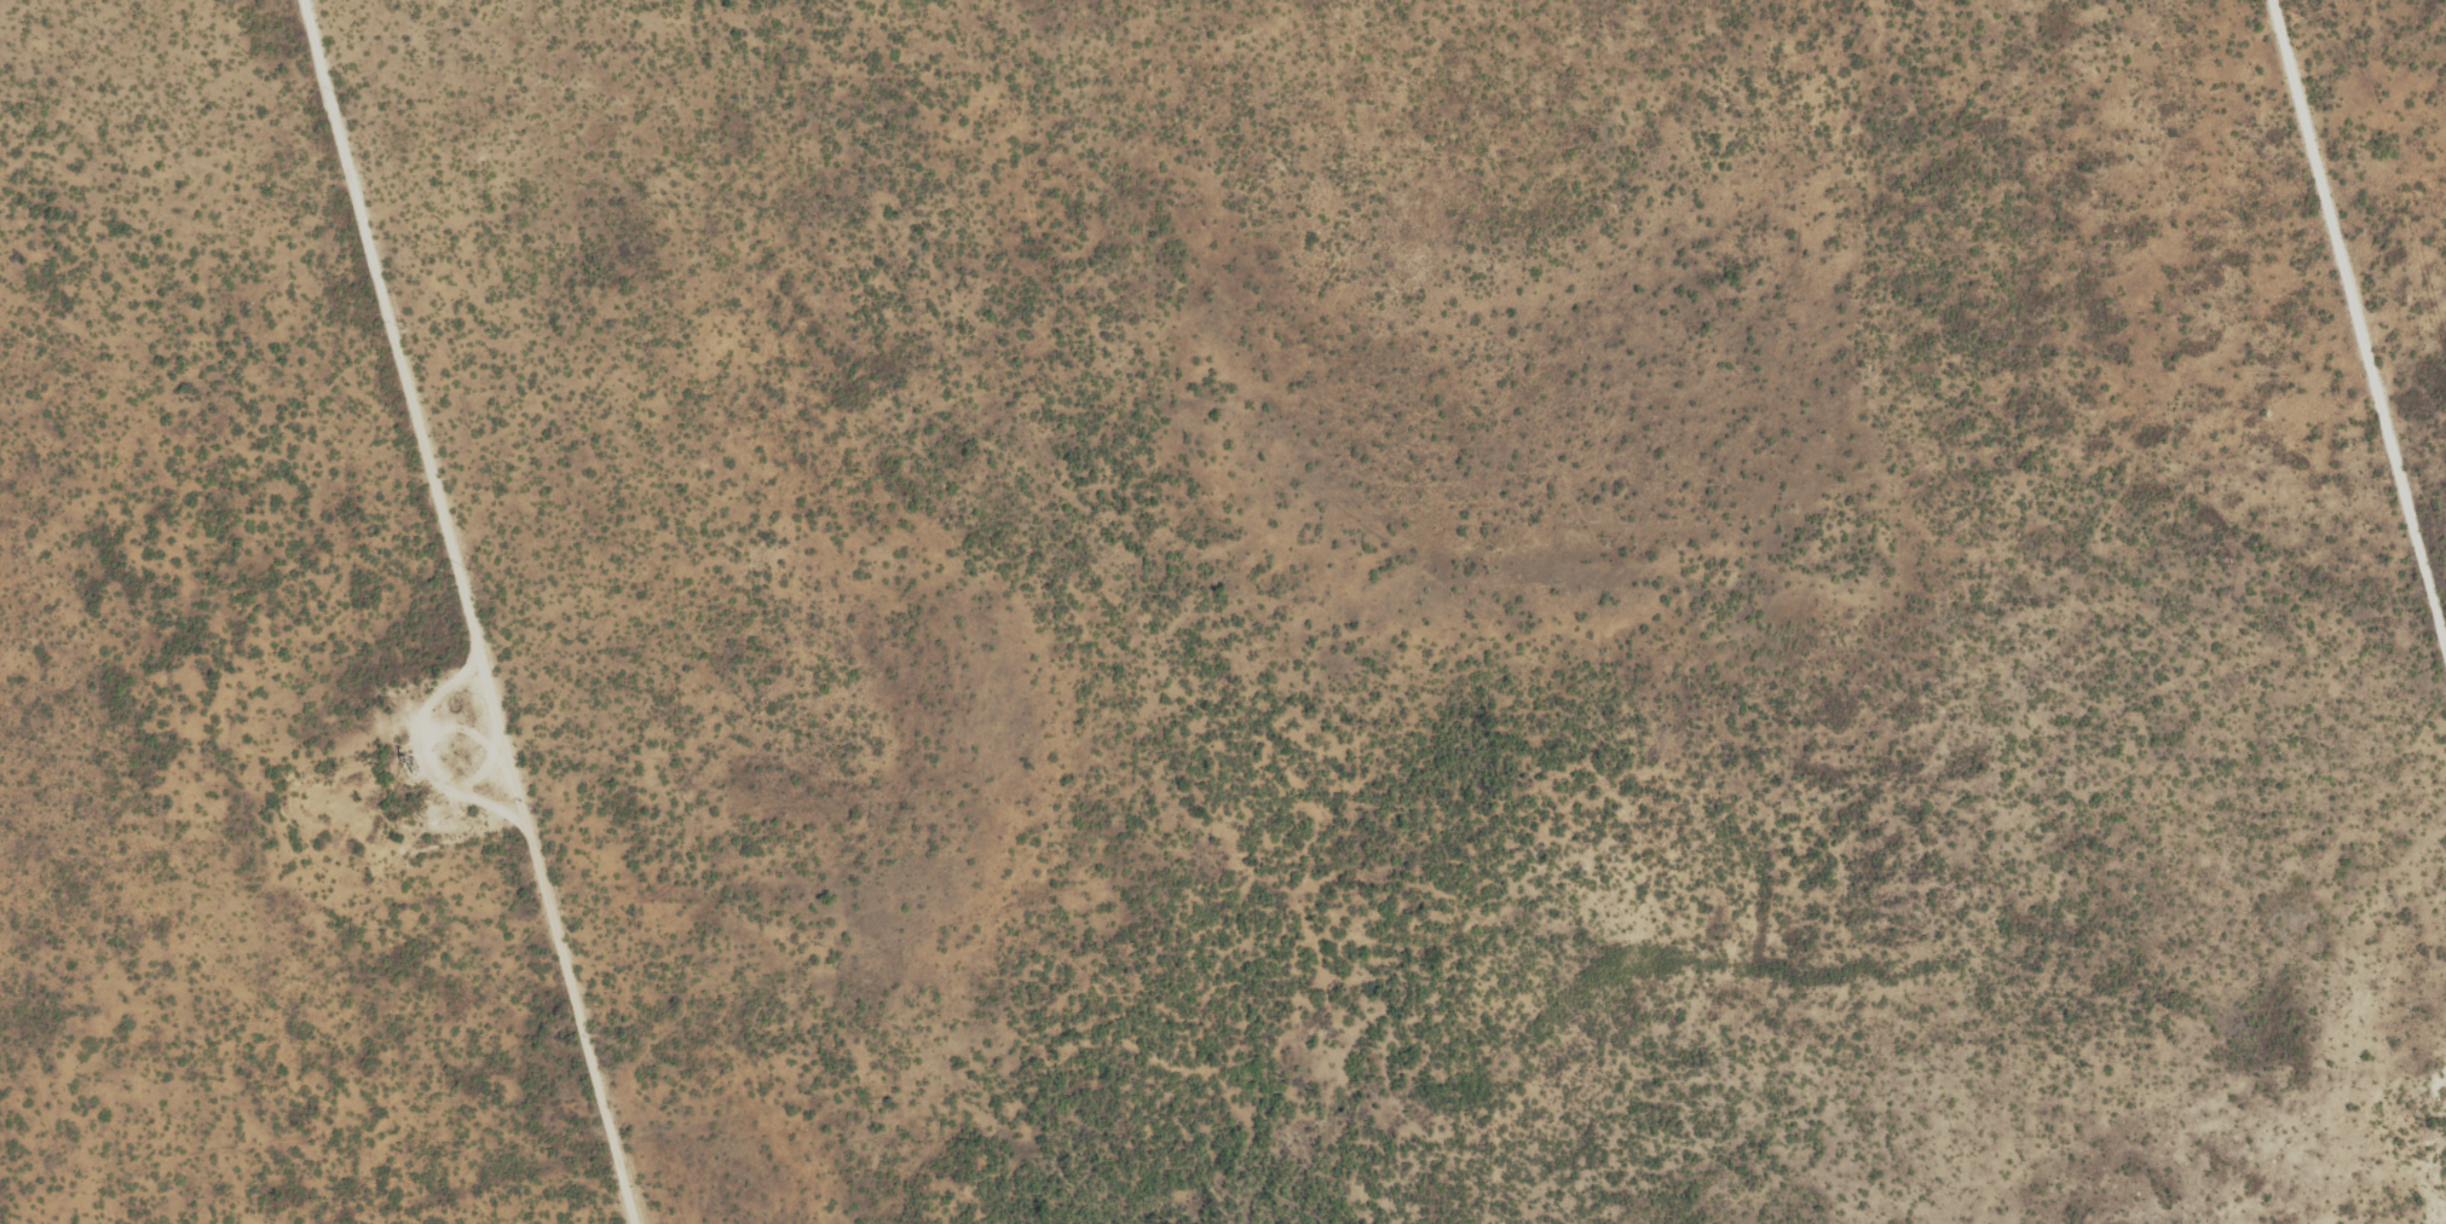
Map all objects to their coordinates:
road: (463, 612)

